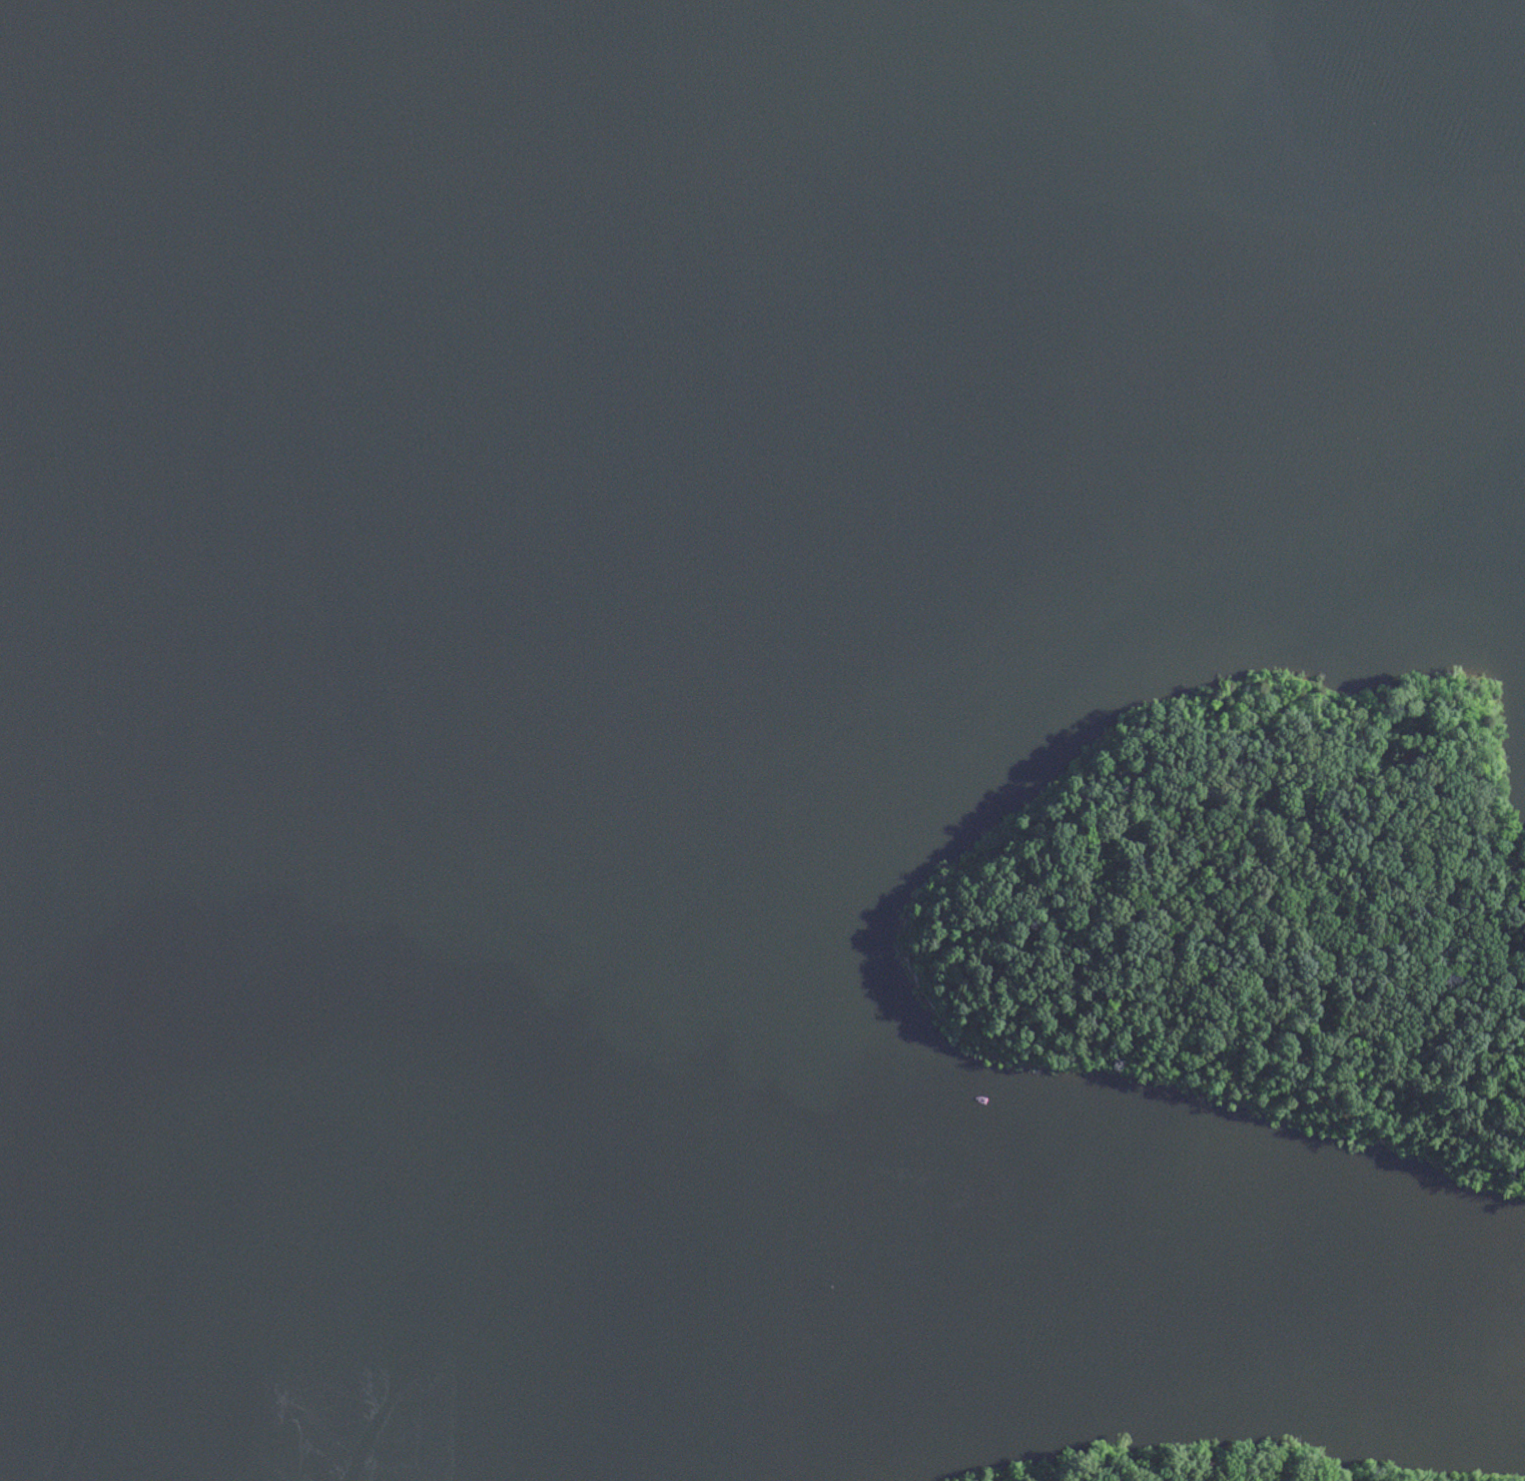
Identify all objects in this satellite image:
river: (580, 376)

